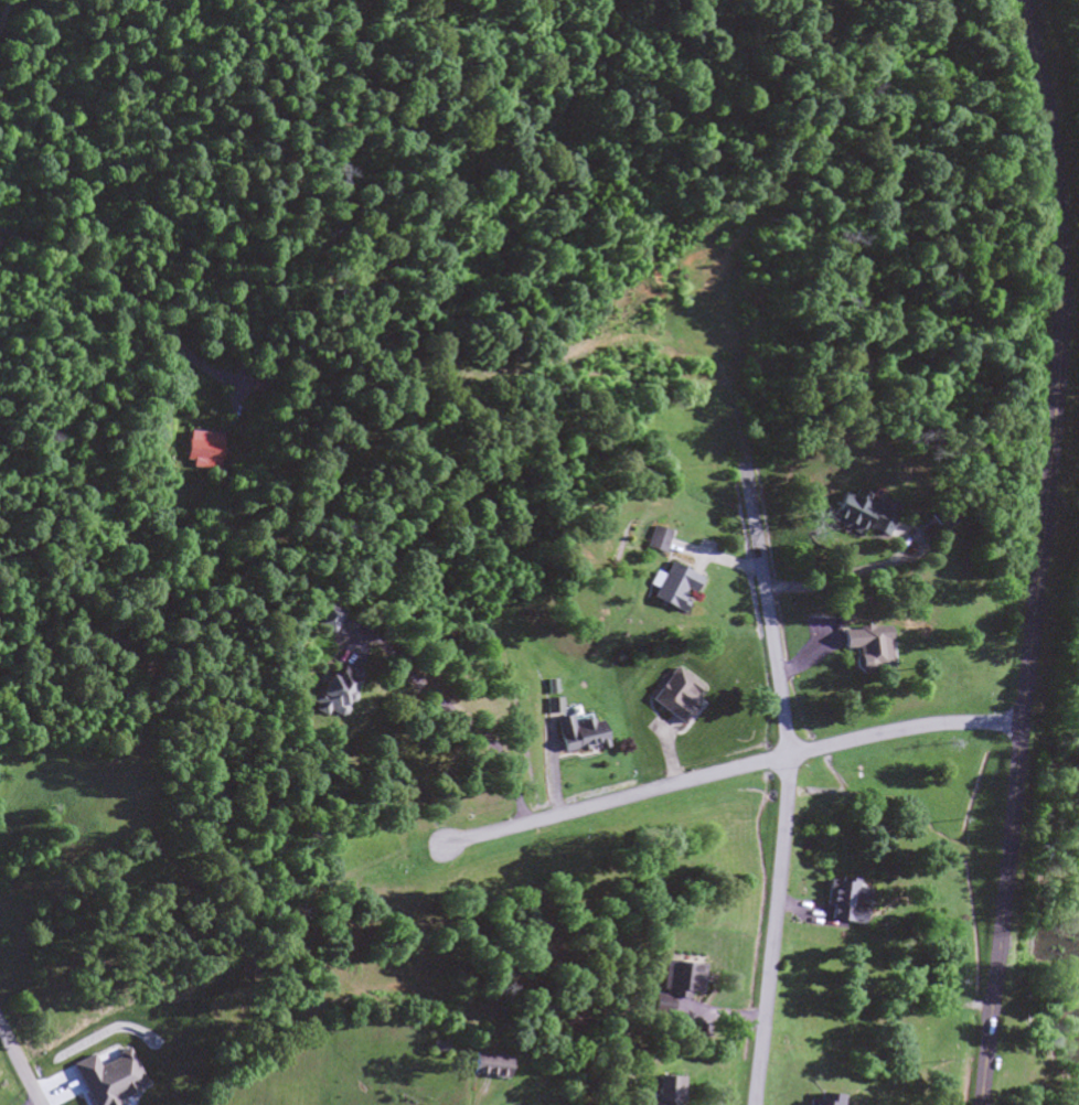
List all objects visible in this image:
building: (0, 245)
building: (202, 451)
building: (857, 515)
building: (930, 521)
building: (652, 541)
road: (1037, 551)
building: (669, 590)
road: (770, 614)
building: (323, 620)
building: (864, 646)
building: (323, 693)
building: (672, 697)
road: (901, 732)
building: (574, 734)
road: (376, 760)
road: (618, 798)
building: (841, 904)
road: (854, 922)
road: (773, 931)
building: (671, 987)
road: (21, 1062)
building: (483, 1068)
building: (658, 1092)

